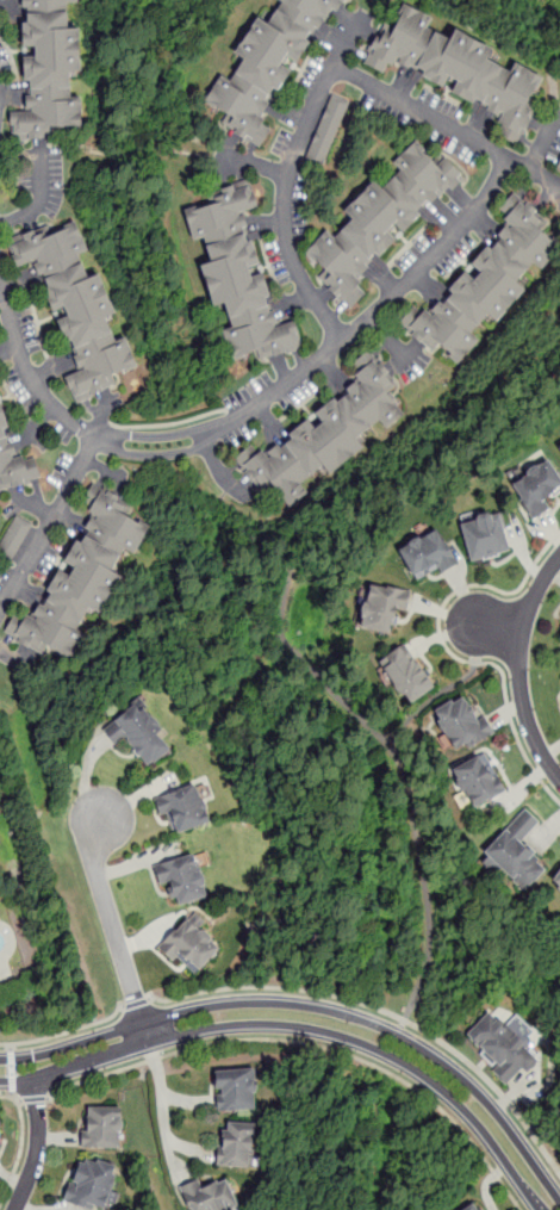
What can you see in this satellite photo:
building: (276, 58)
building: (466, 66)
building: (56, 67)
road: (332, 69)
building: (328, 131)
road: (543, 137)
road: (31, 147)
road: (133, 151)
building: (558, 162)
road: (257, 165)
road: (534, 172)
building: (390, 213)
building: (245, 269)
building: (492, 281)
road: (0, 286)
building: (85, 304)
road: (212, 434)
building: (329, 434)
building: (10, 439)
building: (559, 442)
building: (559, 451)
road: (218, 470)
building: (536, 490)
road: (50, 527)
road: (273, 527)
building: (479, 539)
building: (14, 540)
building: (425, 557)
building: (87, 575)
building: (378, 609)
road: (498, 628)
building: (559, 640)
road: (449, 651)
road: (521, 668)
building: (402, 676)
road: (449, 691)
building: (459, 727)
building: (149, 736)
road: (400, 772)
building: (475, 782)
building: (183, 807)
building: (512, 855)
building: (189, 880)
building: (556, 883)
road: (116, 933)
building: (193, 948)
road: (275, 987)
road: (135, 1001)
road: (315, 1007)
road: (303, 1028)
road: (402, 1029)
road: (66, 1031)
road: (311, 1044)
building: (499, 1051)
road: (12, 1071)
road: (492, 1086)
building: (241, 1093)
road: (32, 1099)
road: (191, 1104)
road: (163, 1117)
building: (0, 1130)
building: (106, 1131)
road: (19, 1144)
road: (37, 1147)
building: (242, 1149)
road: (194, 1152)
building: (97, 1189)
building: (213, 1197)
building: (472, 1209)

